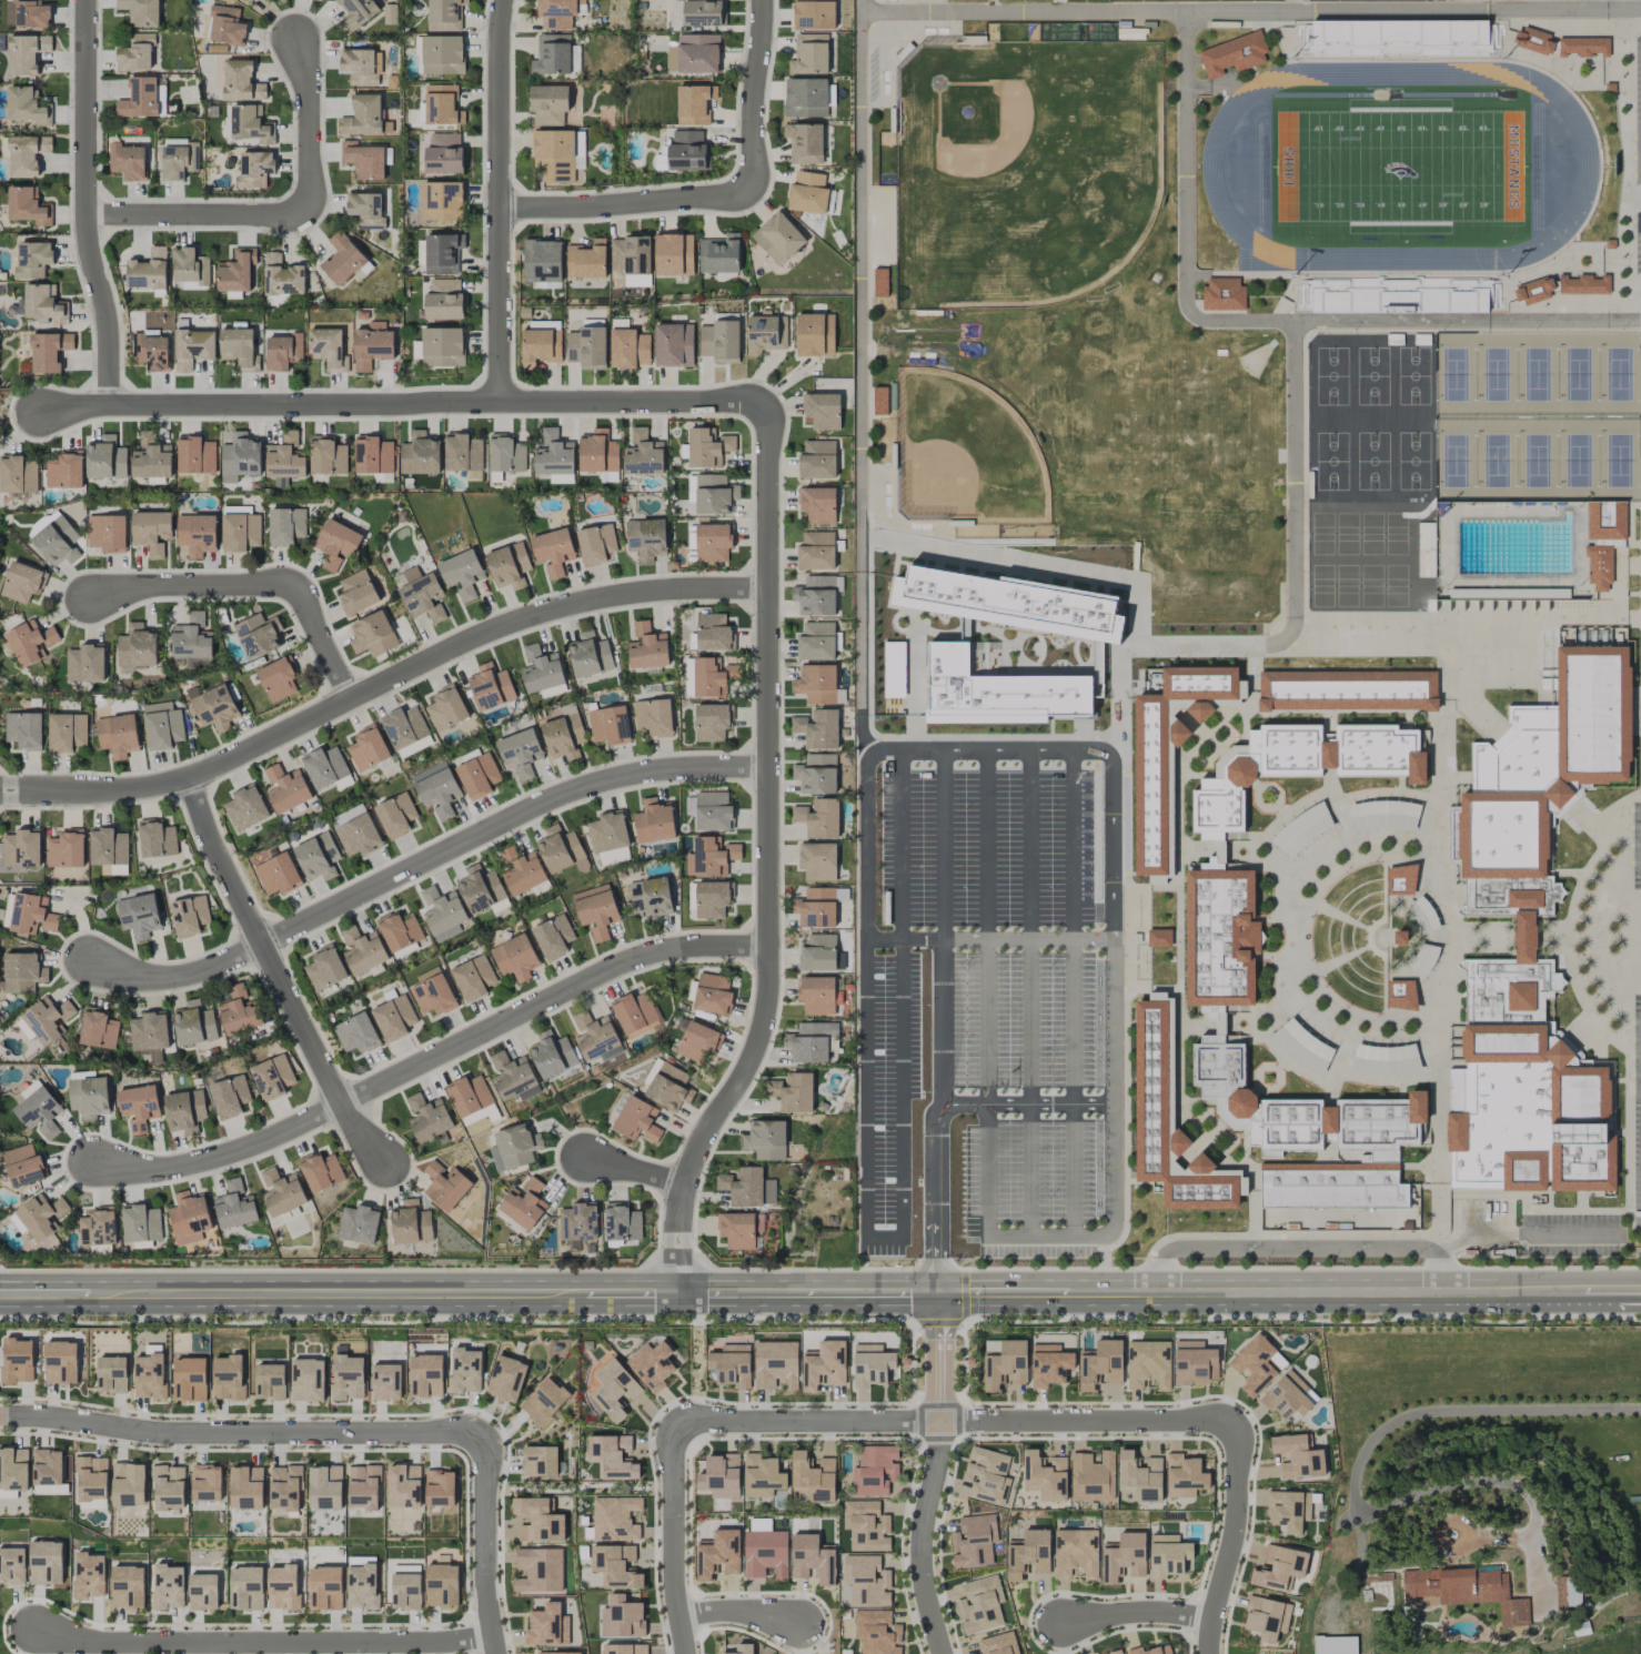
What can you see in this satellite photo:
building: (243, 0)
road: (1250, 11)
building: (140, 12)
building: (356, 12)
building: (557, 12)
building: (702, 12)
building: (27, 13)
building: (444, 14)
building: (813, 14)
building: (225, 26)
building: (1399, 38)
building: (1559, 43)
building: (27, 53)
building: (135, 53)
building: (698, 53)
building: (442, 54)
building: (552, 54)
building: (809, 54)
building: (1234, 54)
building: (672, 59)
building: (361, 67)
building: (241, 82)
building: (1609, 87)
road: (753, 94)
building: (139, 98)
building: (805, 98)
building: (694, 104)
building: (442, 105)
building: (548, 105)
building: (28, 107)
building: (362, 117)
building: (251, 124)
building: (804, 143)
building: (688, 151)
building: (27, 154)
building: (443, 154)
building: (557, 154)
building: (180, 160)
building: (363, 160)
building: (127, 161)
park: (1399, 165)
building: (254, 169)
park: (1023, 169)
track: (1585, 172)
building: (807, 193)
road: (628, 199)
road: (501, 200)
building: (442, 201)
road: (87, 203)
building: (28, 205)
building: (365, 210)
road: (1185, 214)
road: (286, 215)
building: (777, 238)
building: (1609, 244)
building: (442, 253)
building: (673, 254)
building: (719, 254)
building: (630, 255)
building: (342, 259)
building: (32, 260)
building: (586, 260)
building: (542, 261)
building: (190, 268)
building: (148, 271)
building: (235, 271)
building: (282, 276)
building: (879, 282)
building: (1561, 286)
building: (1222, 294)
building: (1399, 295)
building: (444, 300)
building: (44, 305)
building: (765, 333)
building: (815, 334)
building: (719, 341)
building: (541, 343)
building: (372, 345)
building: (673, 345)
building: (442, 346)
building: (328, 347)
building: (587, 347)
building: (192, 349)
building: (239, 349)
building: (628, 349)
building: (49, 351)
building: (150, 351)
building: (282, 352)
road: (862, 372)
park: (1578, 373)
park: (1619, 373)
park: (1454, 374)
park: (1496, 374)
park: (1536, 374)
park: (1331, 375)
park: (1372, 375)
park: (1413, 375)
road: (405, 402)
building: (822, 411)
road: (1293, 436)
building: (707, 447)
building: (597, 452)
building: (462, 453)
park: (964, 453)
building: (420, 454)
building: (505, 454)
building: (553, 454)
building: (642, 454)
building: (195, 455)
building: (372, 455)
building: (328, 456)
building: (240, 457)
building: (284, 457)
building: (105, 458)
building: (151, 458)
building: (817, 460)
park: (1496, 460)
park: (1578, 460)
park: (1619, 460)
park: (1331, 461)
park: (1372, 461)
park: (1413, 461)
park: (1454, 461)
park: (1537, 461)
building: (64, 471)
building: (18, 474)
building: (561, 478)
building: (691, 488)
building: (714, 494)
building: (817, 505)
building: (285, 526)
building: (152, 532)
building: (240, 532)
building: (107, 533)
building: (197, 534)
park: (1321, 535)
park: (1372, 535)
park: (1399, 535)
park: (1348, 536)
building: (646, 538)
building: (691, 538)
building: (1603, 539)
building: (58, 542)
building: (713, 542)
building: (335, 543)
building: (595, 544)
building: (553, 551)
building: (816, 551)
building: (507, 565)
building: (461, 574)
building: (22, 582)
road: (254, 586)
park: (1321, 586)
park: (1372, 586)
park: (1399, 586)
park: (1347, 587)
building: (1378, 591)
building: (1339, 592)
building: (356, 593)
building: (1509, 593)
building: (421, 595)
building: (817, 595)
building: (1013, 604)
building: (967, 631)
building: (713, 633)
building: (258, 635)
building: (372, 635)
building: (191, 638)
building: (31, 642)
building: (816, 642)
building: (1330, 642)
building: (647, 647)
building: (137, 648)
building: (590, 657)
building: (85, 664)
building: (541, 670)
building: (278, 678)
building: (708, 678)
road: (380, 684)
building: (816, 684)
building: (491, 687)
building: (1348, 690)
building: (997, 692)
building: (214, 708)
building: (446, 708)
building: (653, 717)
building: (712, 722)
building: (608, 725)
building: (162, 726)
building: (404, 727)
building: (817, 728)
building: (23, 730)
building: (67, 732)
building: (117, 735)
road: (994, 743)
building: (368, 748)
building: (520, 753)
building: (1169, 755)
building: (324, 767)
building: (816, 774)
building: (477, 776)
building: (285, 789)
building: (436, 789)
building: (245, 808)
building: (713, 811)
building: (395, 815)
building: (1385, 815)
building: (818, 818)
building: (654, 821)
building: (1302, 829)
building: (355, 831)
building: (607, 833)
building: (157, 839)
road: (987, 840)
road: (1031, 840)
road: (1074, 840)
road: (900, 841)
road: (943, 841)
road: (869, 843)
road: (1117, 843)
building: (108, 847)
building: (21, 849)
building: (66, 849)
building: (557, 849)
building: (507, 853)
road: (769, 855)
building: (318, 857)
building: (711, 857)
road: (425, 861)
building: (817, 861)
building: (278, 875)
building: (523, 875)
building: (1400, 879)
building: (480, 889)
building: (652, 896)
building: (713, 899)
building: (816, 908)
building: (595, 910)
building: (8, 911)
building: (442, 914)
building: (31, 915)
building: (139, 915)
building: (1422, 915)
building: (189, 916)
building: (400, 931)
building: (553, 937)
building: (1400, 937)
building: (1159, 938)
road: (1031, 939)
road: (905, 940)
building: (1531, 940)
building: (362, 950)
building: (817, 954)
building: (515, 958)
building: (1423, 959)
parking lot: (1036, 968)
building: (324, 969)
building: (22, 972)
building: (427, 975)
road: (275, 976)
building: (473, 978)
building: (1220, 981)
building: (713, 995)
building: (816, 995)
building: (1400, 995)
building: (433, 996)
building: (239, 1011)
building: (634, 1013)
building: (394, 1018)
building: (48, 1019)
building: (194, 1025)
building: (98, 1029)
building: (149, 1031)
building: (356, 1033)
building: (594, 1036)
building: (697, 1041)
building: (811, 1041)
building: (1302, 1046)
building: (552, 1055)
road: (431, 1056)
road: (902, 1059)
building: (1385, 1059)
building: (511, 1076)
road: (944, 1076)
building: (272, 1077)
building: (668, 1087)
road: (1035, 1087)
road: (1077, 1088)
building: (30, 1089)
road: (988, 1089)
building: (793, 1092)
building: (89, 1096)
building: (230, 1096)
building: (469, 1096)
building: (139, 1107)
building: (184, 1110)
building: (39, 1112)
building: (427, 1118)
building: (1170, 1119)
building: (636, 1120)
road: (867, 1133)
building: (766, 1140)
road: (1116, 1142)
building: (514, 1148)
building: (22, 1166)
road: (634, 1169)
building: (321, 1171)
building: (445, 1186)
building: (747, 1187)
building: (281, 1192)
building: (524, 1203)
building: (234, 1206)
road: (946, 1214)
building: (41, 1216)
building: (189, 1218)
building: (578, 1221)
building: (17, 1222)
building: (622, 1222)
building: (140, 1223)
building: (410, 1223)
building: (359, 1224)
building: (98, 1227)
building: (738, 1229)
road: (1537, 1233)
road: (1453, 1241)
road: (1285, 1247)
road: (1446, 1251)
road: (1442, 1271)
road: (1398, 1287)
road: (470, 1288)
road: (1132, 1289)
road: (1025, 1291)
traffic signals: (942, 1292)
building: (17, 1360)
building: (61, 1363)
building: (1195, 1363)
building: (731, 1364)
building: (775, 1364)
building: (1148, 1364)
building: (1257, 1364)
building: (651, 1365)
building: (823, 1365)
building: (870, 1365)
building: (1049, 1365)
building: (1100, 1365)
building: (1005, 1366)
building: (464, 1371)
building: (111, 1374)
building: (149, 1375)
building: (425, 1375)
building: (226, 1378)
building: (346, 1378)
building: (189, 1379)
building: (505, 1379)
building: (306, 1380)
building: (269, 1381)
building: (385, 1382)
building: (614, 1390)
building: (1288, 1396)
building: (544, 1401)
road: (808, 1420)
road: (1087, 1421)
road: (241, 1432)
building: (612, 1456)
building: (1298, 1456)
building: (540, 1462)
building: (13, 1469)
building: (47, 1471)
building: (875, 1471)
road: (936, 1474)
building: (1045, 1475)
building: (1139, 1475)
road: (1355, 1475)
building: (719, 1476)
building: (762, 1476)
building: (813, 1476)
building: (987, 1476)
building: (1185, 1476)
building: (1091, 1477)
building: (91, 1479)
building: (207, 1483)
building: (129, 1484)
building: (325, 1486)
building: (403, 1486)
building: (169, 1487)
building: (245, 1487)
building: (284, 1487)
building: (363, 1487)
building: (440, 1492)
building: (1289, 1510)
building: (615, 1519)
building: (537, 1520)
building: (866, 1525)
road: (671, 1537)
building: (974, 1542)
road: (1229, 1542)
road: (482, 1545)
building: (1075, 1552)
building: (718, 1554)
building: (765, 1554)
building: (1027, 1555)
building: (1168, 1555)
building: (1124, 1557)
building: (813, 1559)
building: (46, 1563)
building: (12, 1565)
building: (616, 1566)
building: (1279, 1569)
building: (538, 1570)
building: (89, 1575)
building: (866, 1581)
building: (167, 1586)
building: (361, 1586)
building: (441, 1586)
building: (127, 1587)
building: (245, 1587)
building: (282, 1587)
building: (324, 1587)
building: (1466, 1590)
building: (202, 1592)
building: (1568, 1592)
building: (980, 1605)
road: (737, 1612)
road: (1137, 1613)
building: (622, 1617)
building: (1267, 1618)
building: (546, 1626)
building: (877, 1632)
road: (799, 1637)
road: (266, 1644)
building: (998, 1644)
building: (625, 1648)
building: (742, 1648)
building: (1150, 1651)
building: (1116, 1652)
building: (558, 1653)

